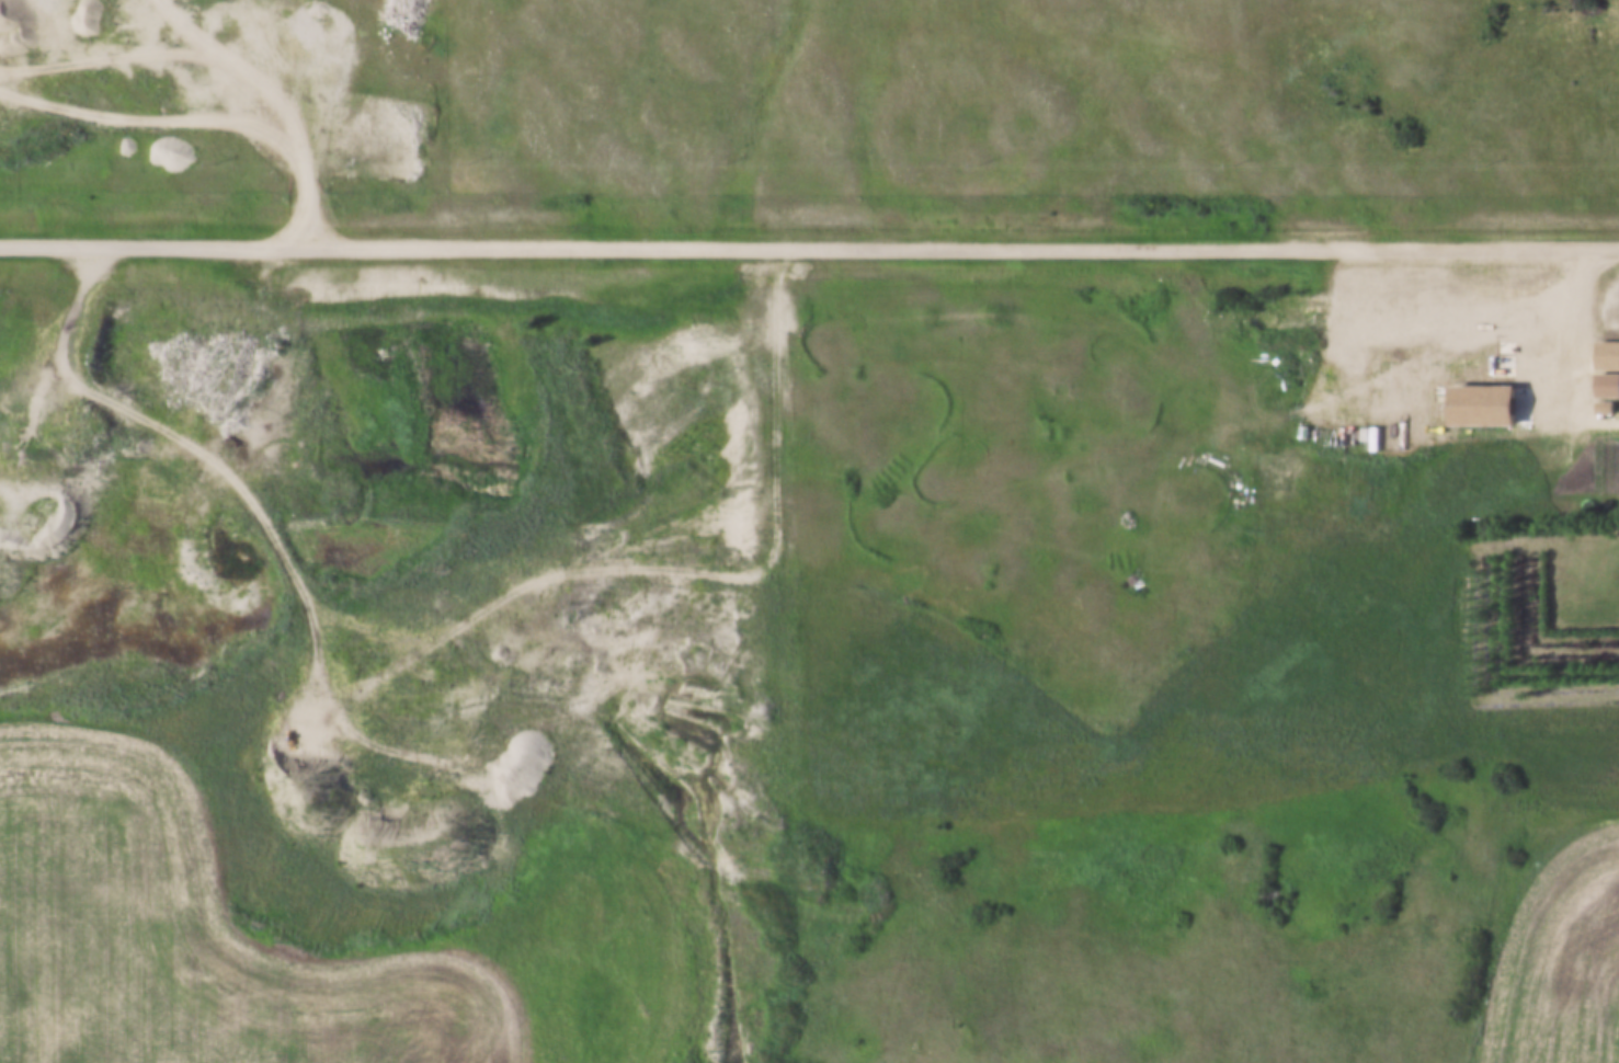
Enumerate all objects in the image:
road: (809, 243)
road: (1572, 315)
road: (281, 319)
building: (1607, 355)
building: (1501, 366)
quarry: (373, 432)

